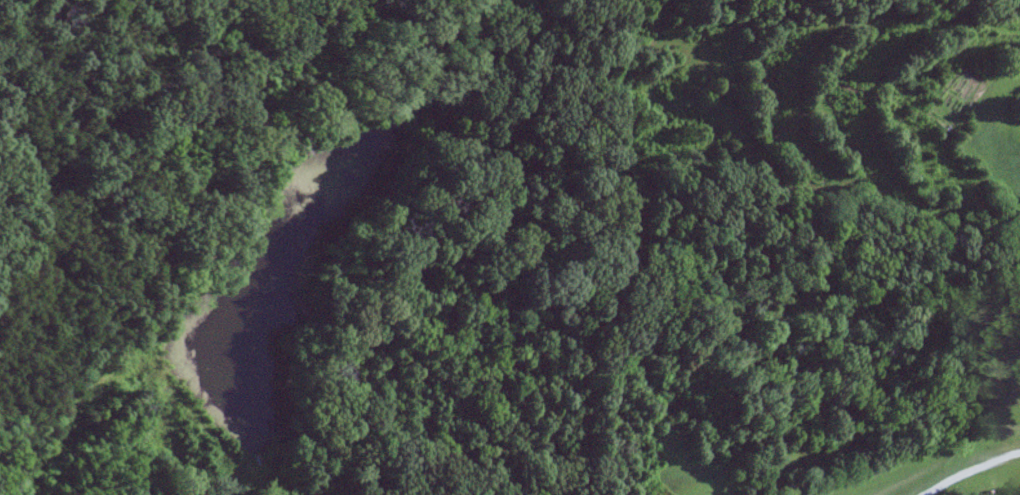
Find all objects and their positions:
road: (966, 469)

